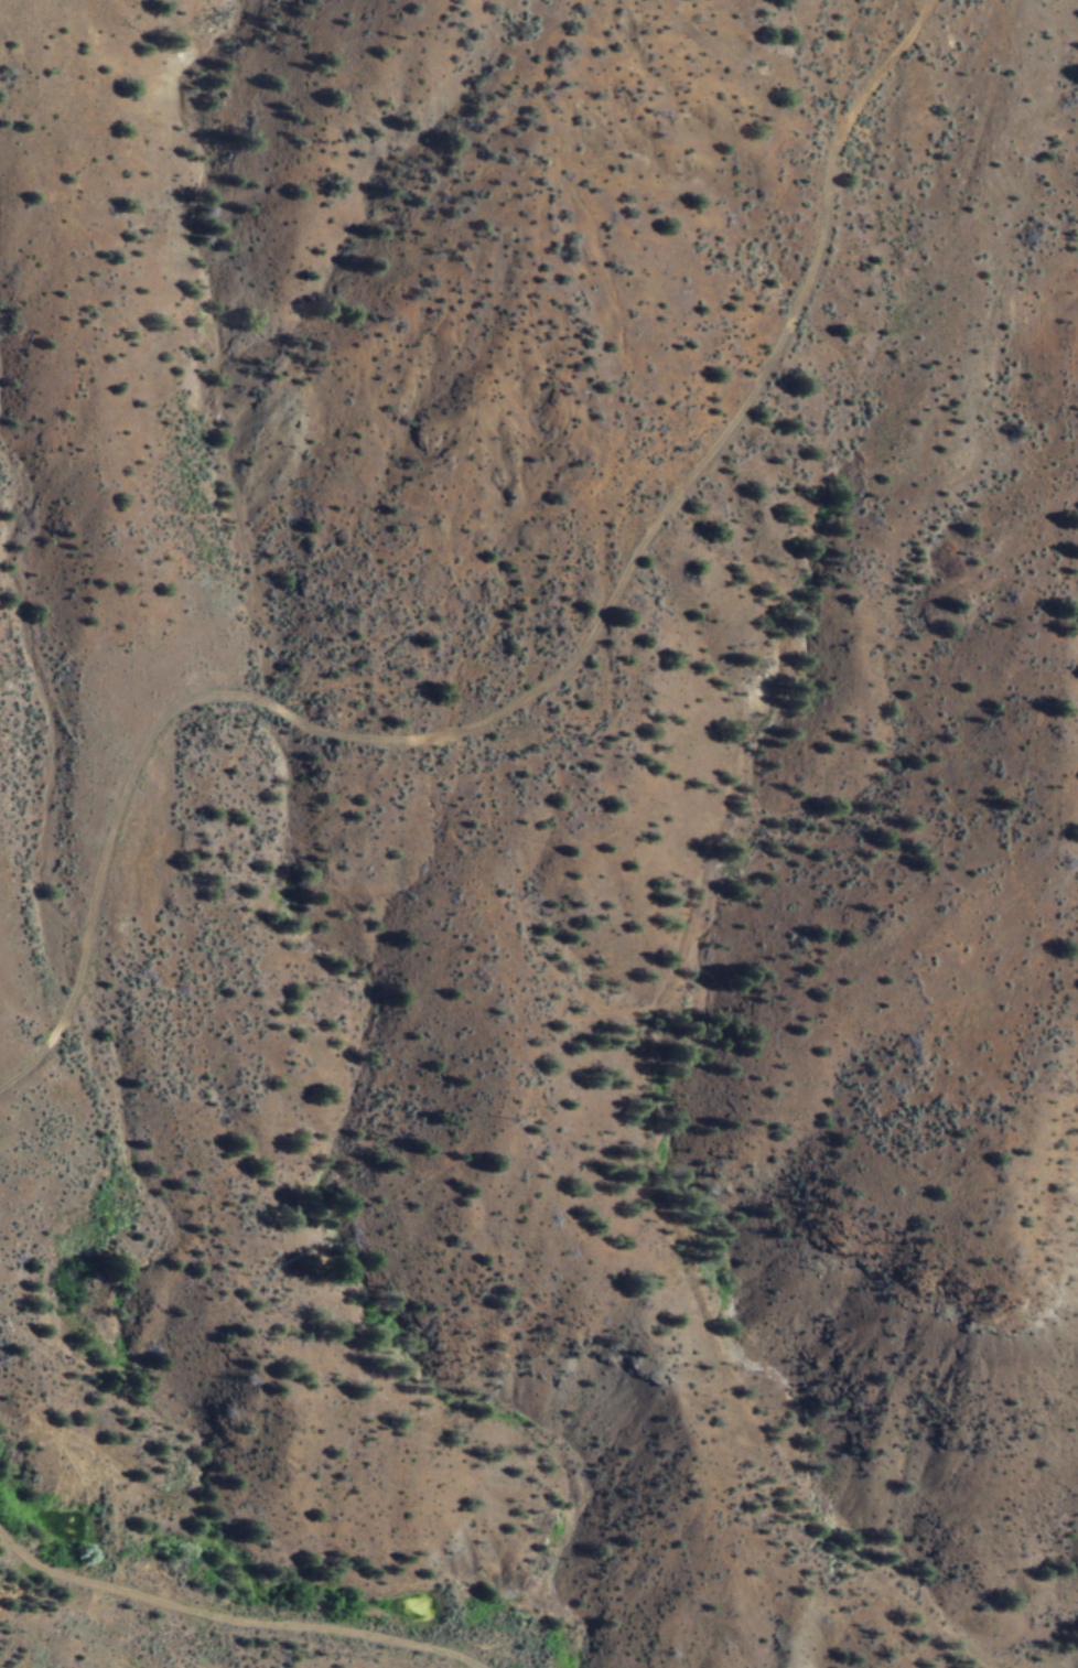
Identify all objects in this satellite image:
road: (537, 656)
road: (227, 1625)

